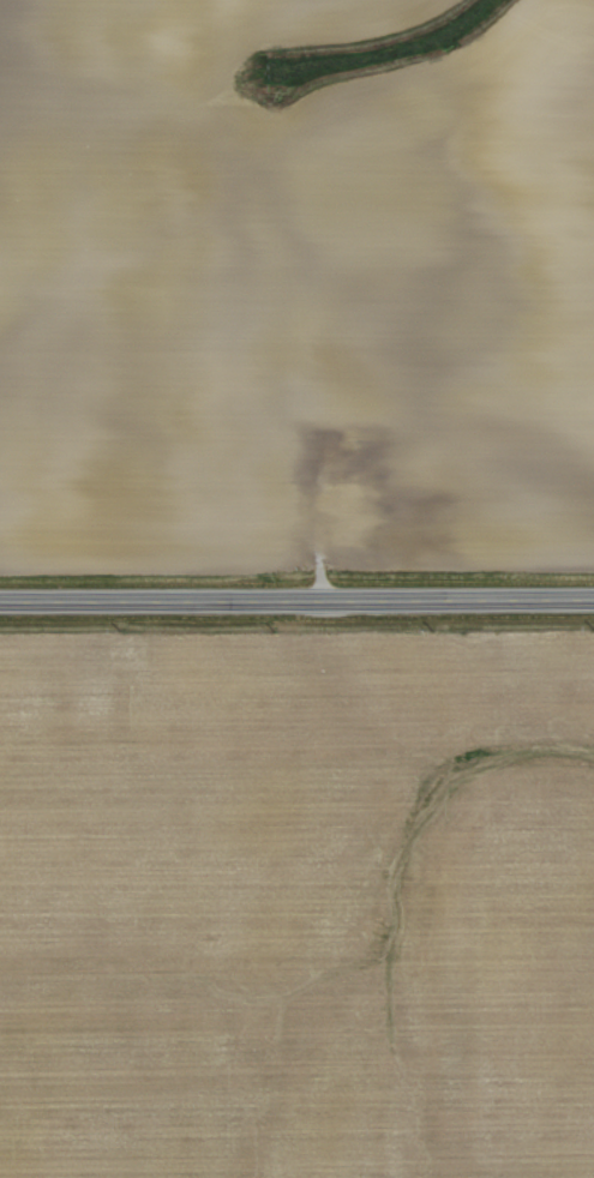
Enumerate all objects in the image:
road: (296, 599)

